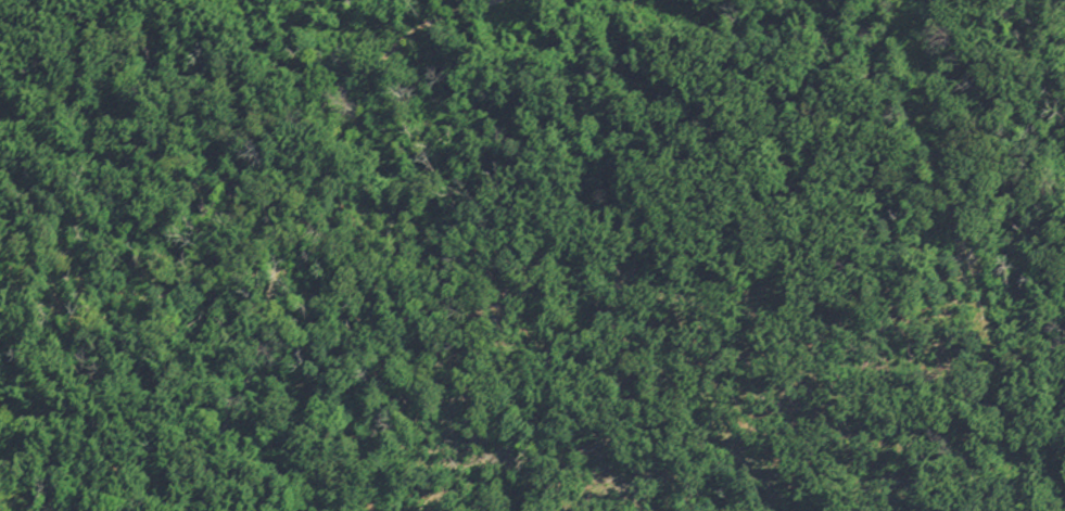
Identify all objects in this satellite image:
road: (286, 206)

